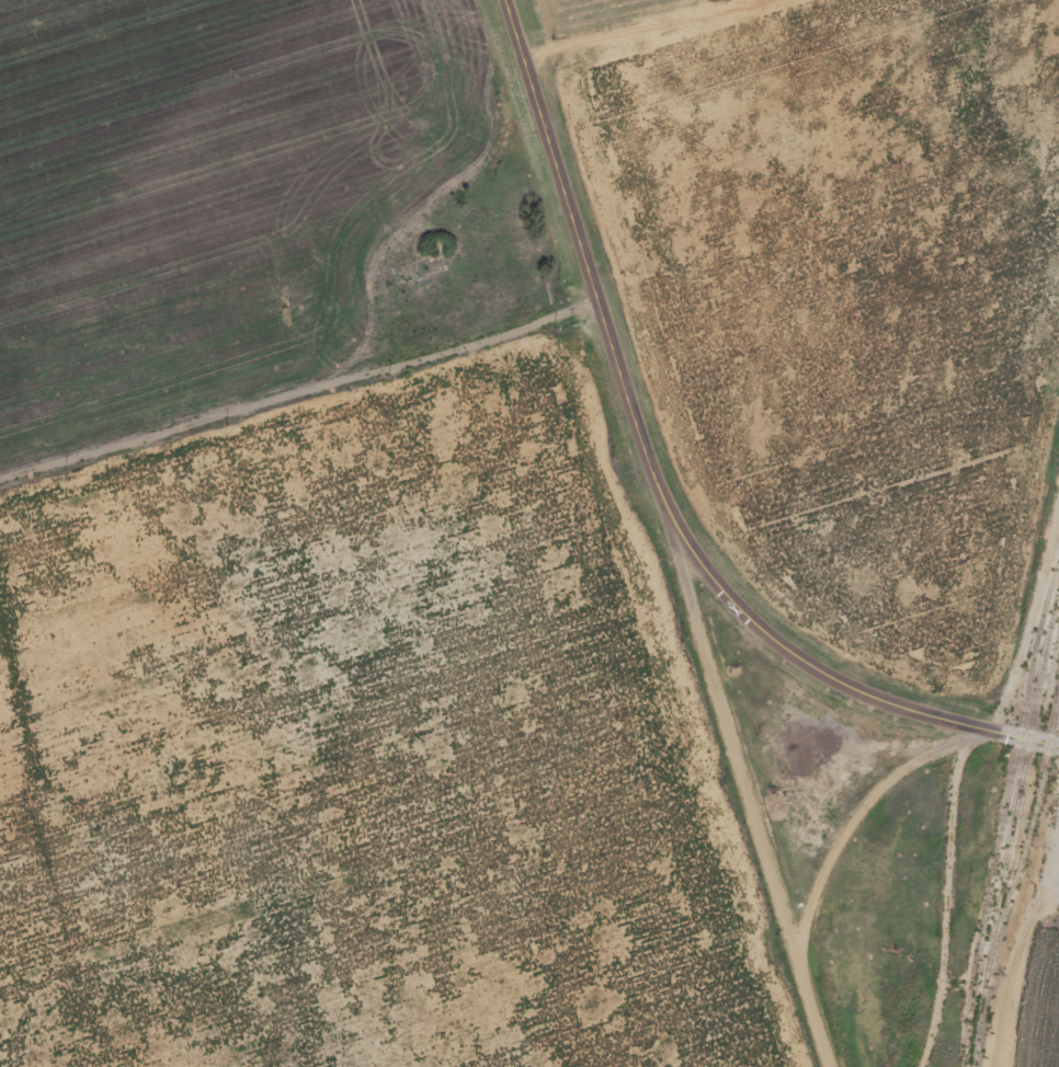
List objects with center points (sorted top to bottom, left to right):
road: (307, 413)
road: (662, 481)
road: (732, 727)
railway: (1003, 816)
railway: (1035, 825)
railway: (1014, 833)
road: (828, 868)

